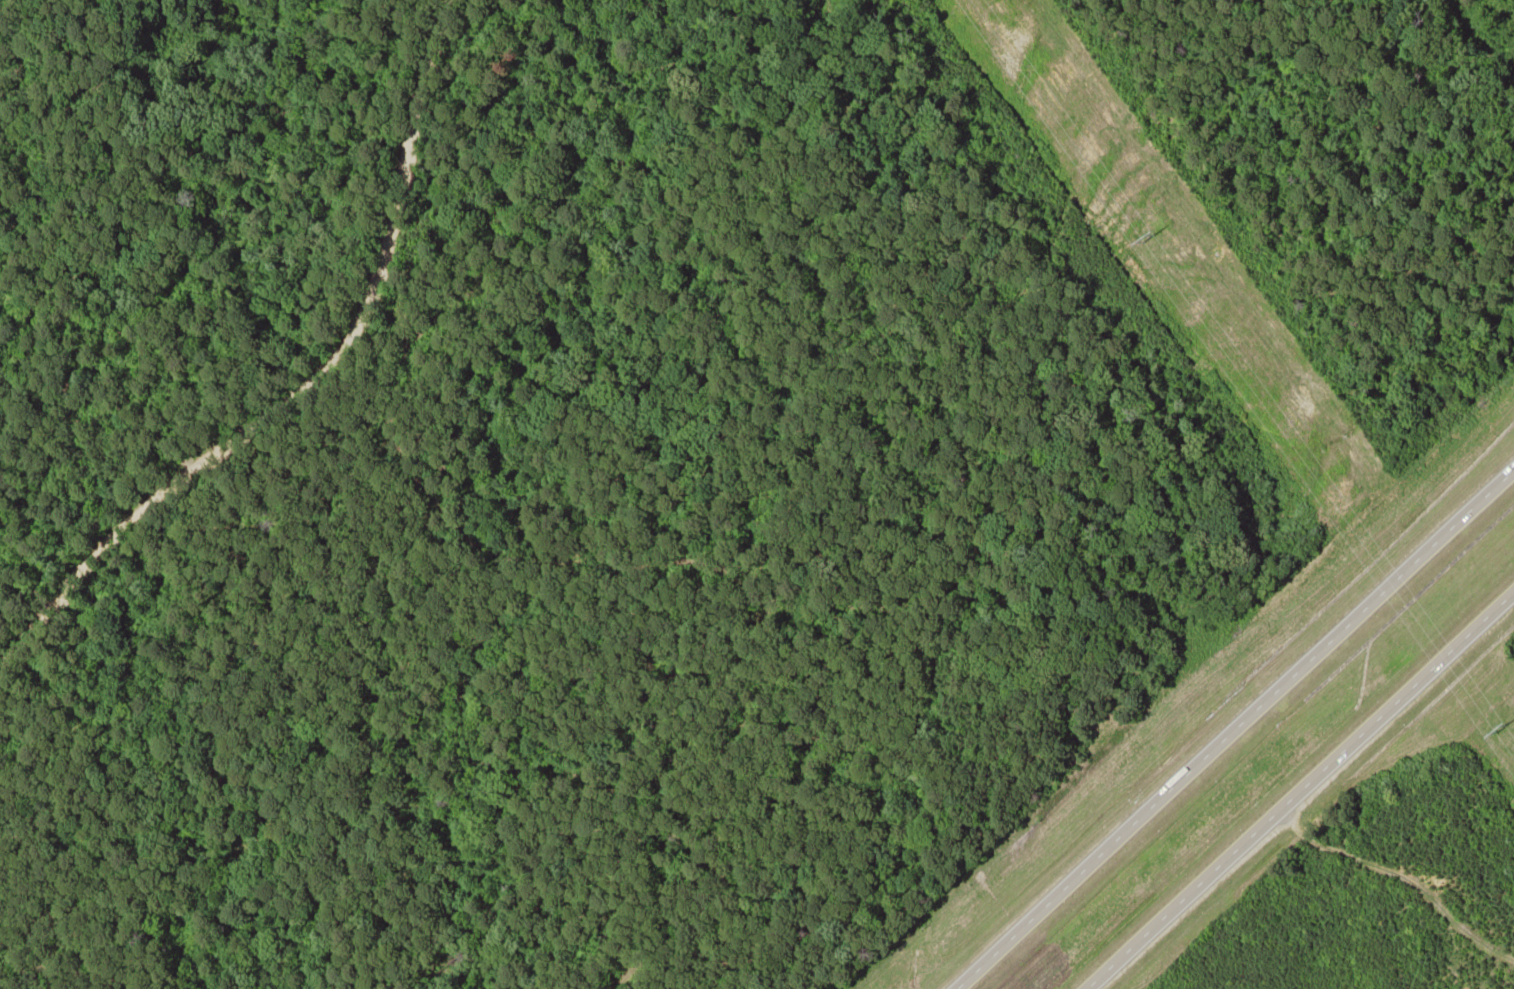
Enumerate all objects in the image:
road: (321, 410)
road: (1235, 731)
road: (1301, 792)

